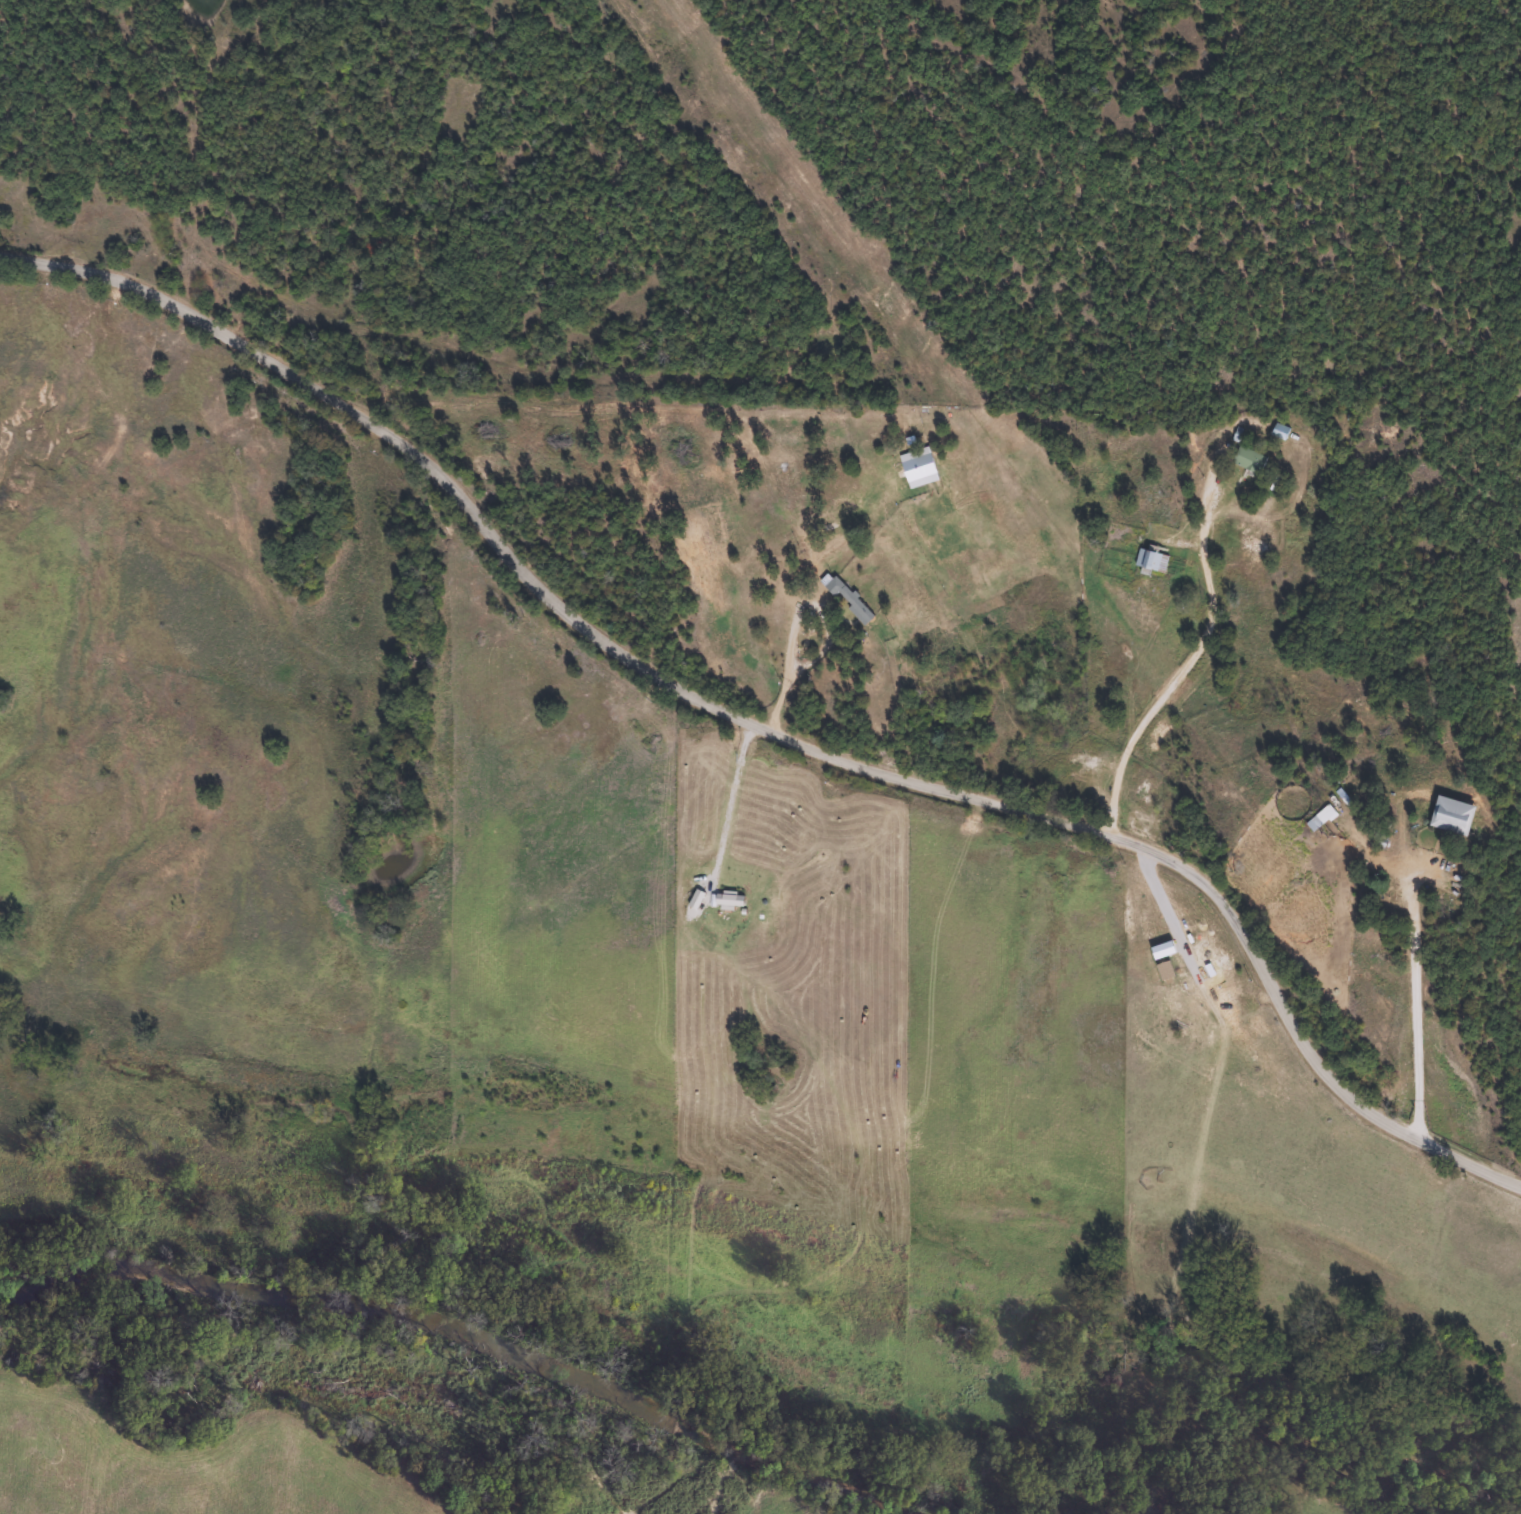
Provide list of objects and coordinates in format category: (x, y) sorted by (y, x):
building: (1247, 460)
building: (1148, 560)
building: (845, 597)
road: (1188, 672)
road: (766, 735)
building: (1447, 815)
building: (1318, 818)
road: (1418, 1012)

